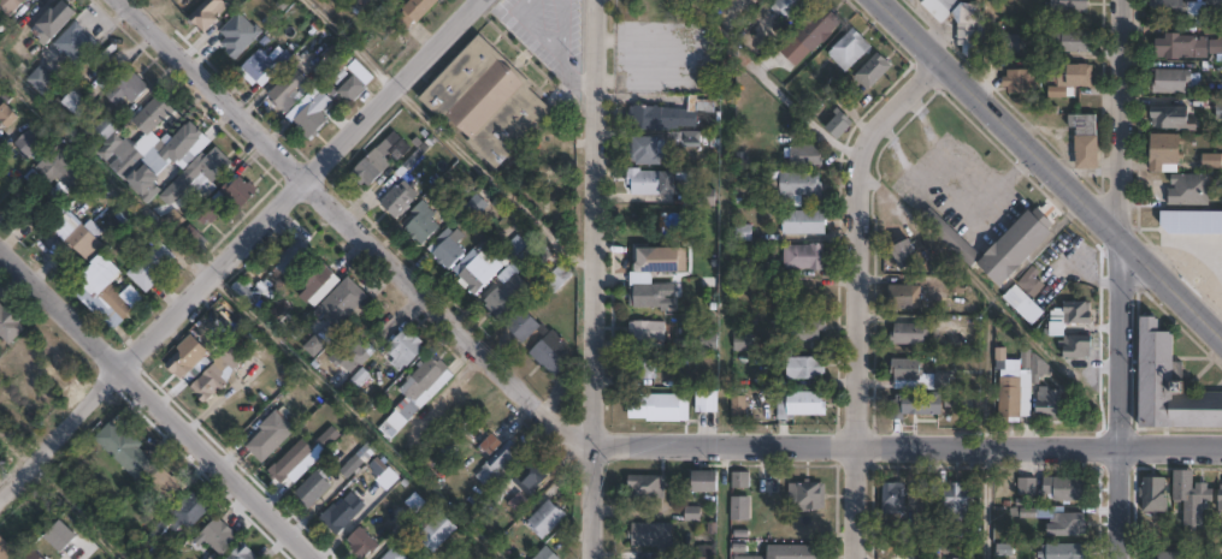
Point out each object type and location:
building: (1214, 1)
building: (340, 2)
building: (706, 2)
building: (359, 4)
building: (790, 6)
building: (1069, 6)
building: (939, 7)
building: (1169, 7)
building: (14, 8)
building: (654, 8)
building: (413, 12)
building: (1197, 12)
building: (207, 13)
building: (51, 20)
building: (969, 28)
building: (810, 34)
building: (236, 38)
building: (1070, 41)
road: (551, 42)
building: (1009, 42)
building: (1183, 46)
building: (69, 48)
building: (849, 48)
building: (259, 69)
building: (360, 71)
building: (873, 71)
road: (567, 75)
building: (1022, 75)
building: (1075, 75)
building: (1171, 79)
building: (42, 81)
building: (126, 88)
building: (288, 88)
building: (350, 88)
building: (486, 100)
road: (790, 103)
building: (70, 105)
building: (1220, 109)
building: (6, 114)
building: (674, 115)
building: (1169, 115)
building: (308, 118)
building: (839, 124)
building: (1085, 124)
building: (149, 137)
road: (443, 137)
building: (684, 137)
building: (178, 143)
building: (29, 144)
building: (110, 147)
building: (647, 150)
building: (1087, 151)
building: (1165, 151)
building: (547, 154)
building: (805, 155)
building: (383, 159)
building: (1212, 161)
road: (1050, 170)
building: (58, 172)
building: (196, 172)
building: (655, 182)
building: (143, 184)
building: (799, 186)
building: (1191, 189)
building: (238, 192)
building: (699, 197)
building: (396, 201)
building: (207, 212)
building: (803, 221)
building: (1189, 221)
building: (420, 222)
building: (194, 236)
building: (85, 239)
building: (994, 243)
building: (448, 246)
road: (240, 249)
building: (526, 252)
building: (904, 252)
building: (293, 255)
building: (804, 256)
building: (656, 258)
building: (152, 266)
building: (742, 267)
building: (477, 269)
building: (318, 278)
building: (557, 278)
road: (591, 279)
road: (1118, 279)
road: (860, 291)
building: (104, 292)
building: (654, 295)
building: (507, 297)
building: (904, 297)
building: (342, 301)
building: (1023, 304)
building: (8, 323)
building: (527, 326)
building: (1073, 327)
building: (805, 328)
building: (650, 333)
building: (909, 333)
building: (708, 341)
building: (743, 343)
building: (405, 347)
building: (355, 352)
building: (550, 353)
building: (232, 355)
building: (184, 362)
building: (644, 365)
building: (805, 367)
building: (917, 375)
building: (209, 381)
building: (424, 382)
building: (1167, 386)
building: (1021, 387)
building: (707, 400)
road: (159, 403)
building: (799, 404)
building: (1050, 404)
building: (738, 405)
building: (913, 405)
building: (659, 408)
road: (354, 418)
building: (392, 424)
building: (271, 434)
road: (582, 438)
building: (125, 450)
building: (444, 457)
building: (289, 462)
building: (498, 464)
building: (352, 466)
building: (388, 480)
building: (706, 482)
building: (740, 482)
building: (164, 483)
building: (526, 483)
building: (648, 486)
building: (1027, 486)
building: (1067, 488)
building: (312, 489)
building: (1155, 494)
building: (808, 495)
building: (1192, 496)
building: (893, 499)
building: (1220, 499)
building: (956, 502)
building: (739, 509)
building: (188, 512)
building: (343, 513)
building: (545, 519)
building: (1067, 524)
building: (442, 527)
building: (59, 535)
building: (651, 535)
building: (218, 536)
building: (361, 542)
building: (6, 551)
building: (397, 552)
building: (707, 552)
building: (1063, 552)
building: (242, 553)
building: (790, 553)
building: (33, 554)
building: (547, 554)
building: (1173, 555)
building: (960, 558)

